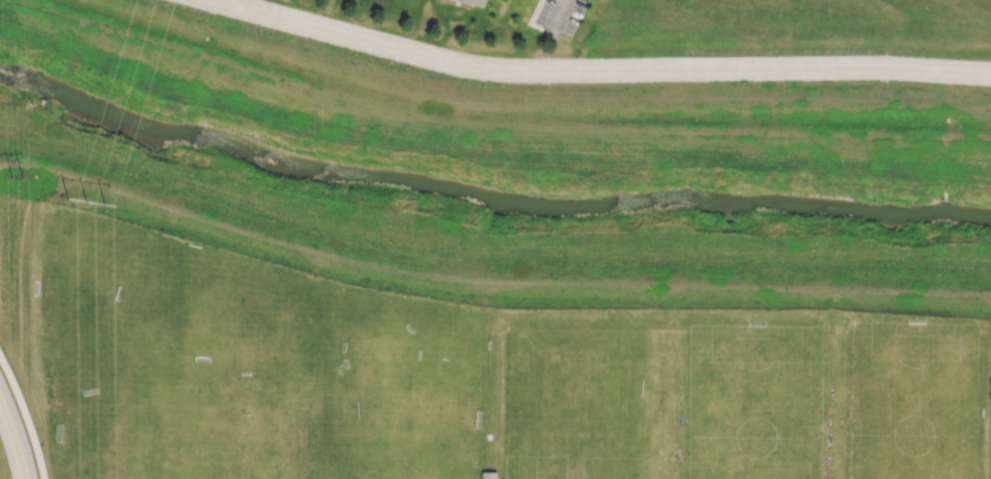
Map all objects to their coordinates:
building: (476, 2)
road: (557, 14)
parking lot: (559, 17)
road: (597, 71)
power tower: (21, 180)
power tower: (92, 196)
river: (486, 201)
road: (487, 283)
park: (132, 345)
park: (241, 345)
park: (467, 372)
park: (576, 394)
park: (381, 400)
park: (747, 401)
road: (26, 420)
park: (920, 424)
park: (242, 426)
park: (133, 427)
road: (14, 439)
park: (573, 466)
park: (133, 473)
park: (243, 473)
building: (489, 475)

